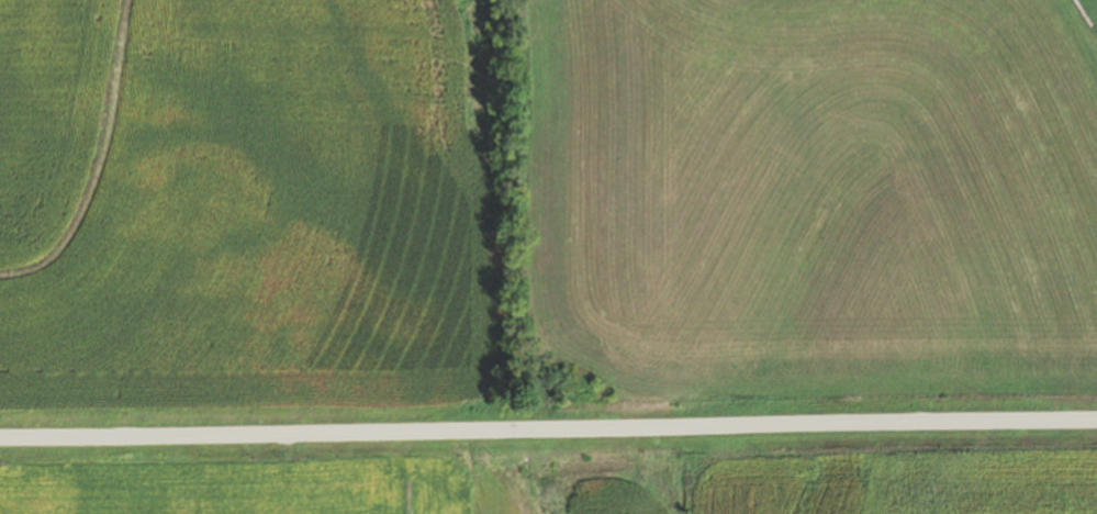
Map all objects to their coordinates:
road: (548, 420)

